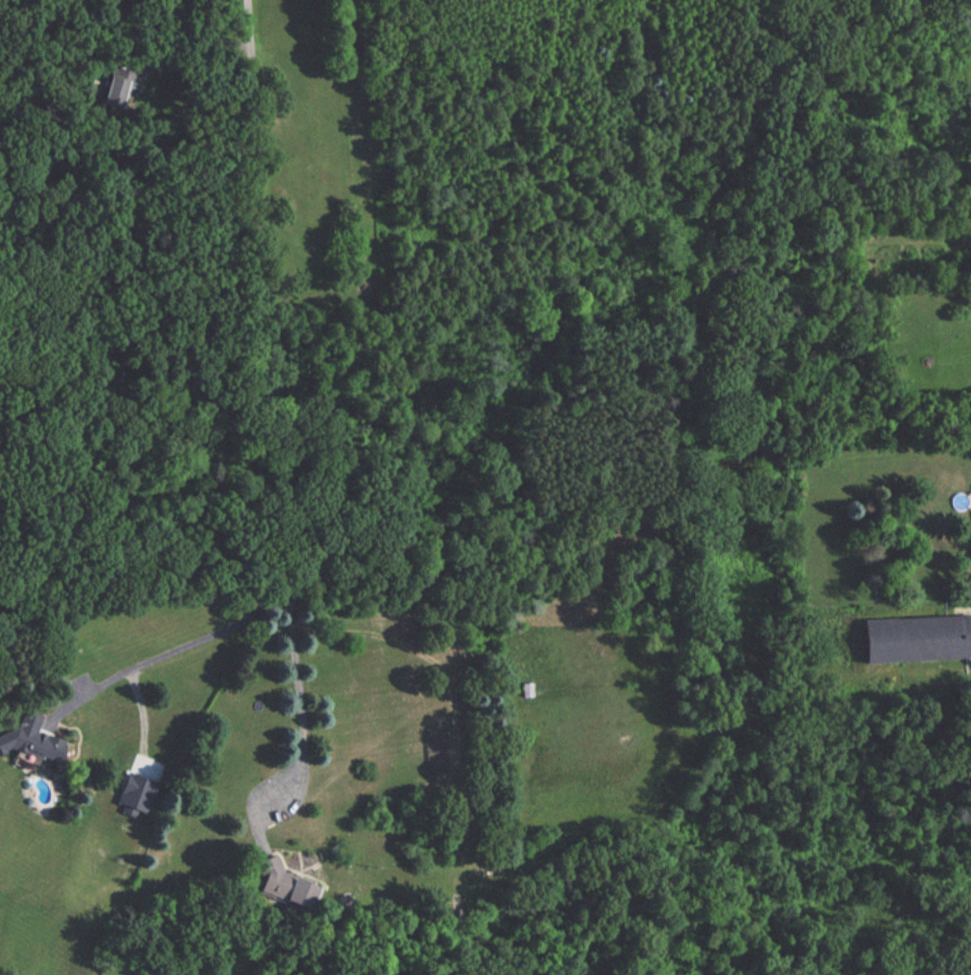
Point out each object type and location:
road: (192, 60)
road: (260, 393)
building: (914, 638)
road: (167, 647)
building: (37, 740)
building: (300, 894)

